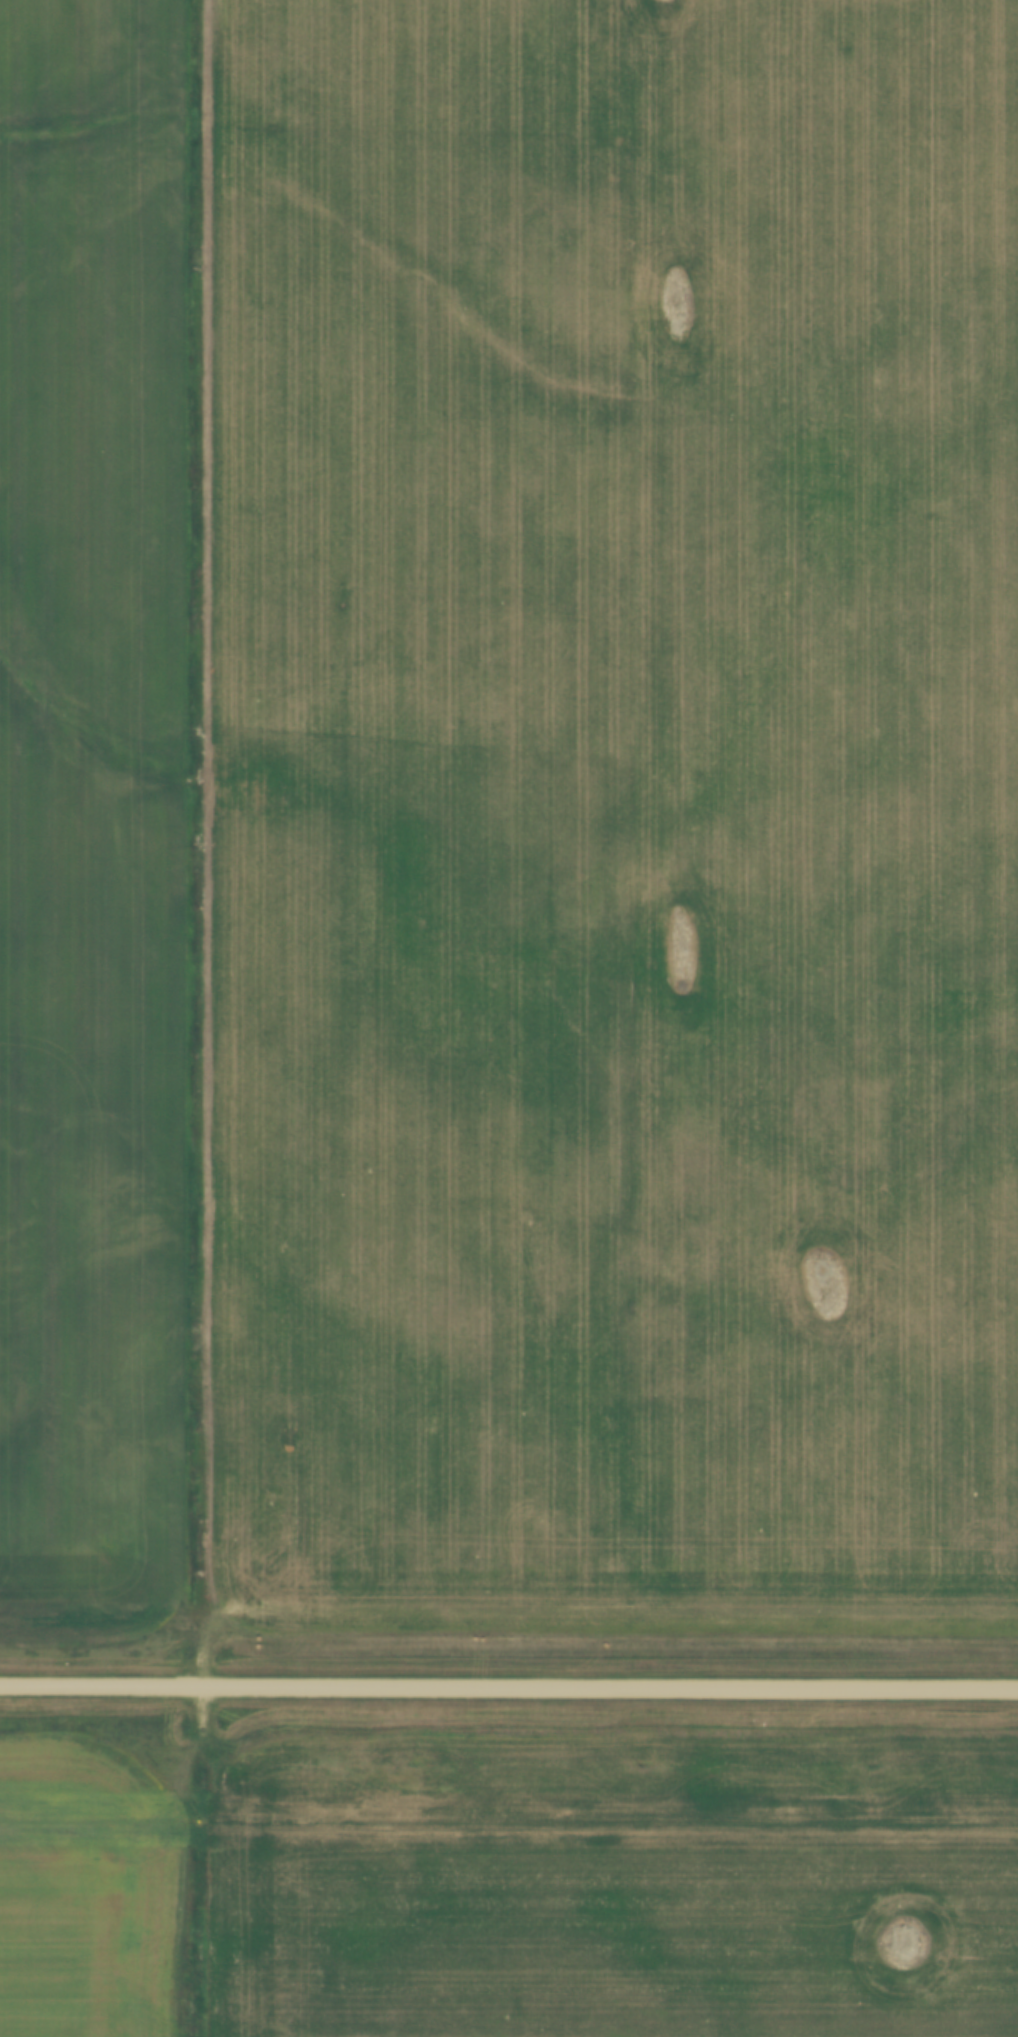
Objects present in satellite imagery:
road: (509, 1684)

